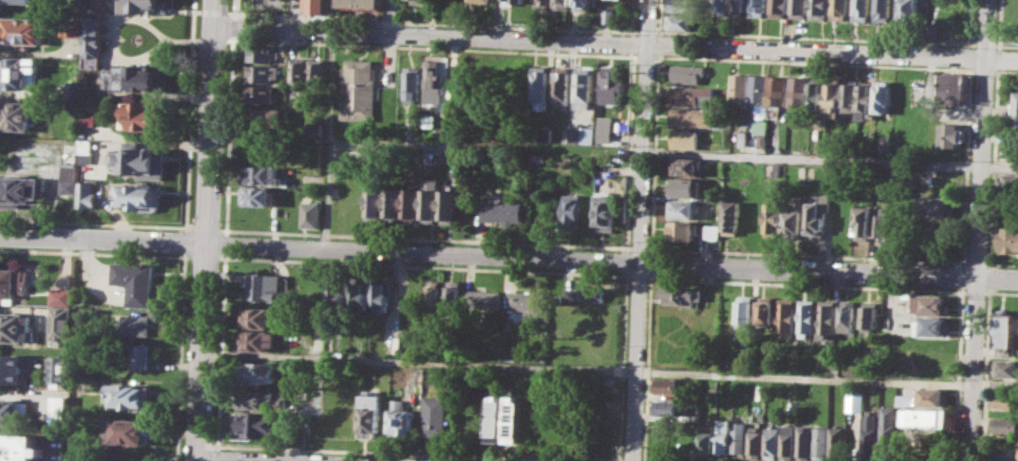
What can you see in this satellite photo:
building: (17, 0)
building: (483, 0)
building: (517, 0)
building: (421, 1)
building: (361, 3)
building: (543, 3)
building: (561, 4)
building: (582, 5)
building: (685, 5)
building: (145, 6)
building: (314, 6)
building: (720, 6)
building: (739, 6)
building: (94, 8)
building: (757, 8)
building: (777, 8)
building: (798, 8)
street lamp: (227, 9)
building: (818, 9)
road: (197, 10)
road: (214, 10)
building: (839, 10)
building: (860, 10)
building: (883, 10)
building: (911, 10)
road: (231, 12)
road: (231, 14)
road: (394, 16)
building: (608, 16)
road: (659, 17)
street lamp: (241, 18)
street lamp: (324, 21)
building: (679, 21)
road: (444, 24)
road: (230, 26)
street lamp: (422, 26)
building: (70, 27)
street lamp: (639, 29)
building: (21, 30)
street lamp: (528, 30)
road: (635, 34)
street lamp: (629, 35)
street lamp: (734, 37)
road: (231, 38)
building: (93, 41)
road: (616, 42)
street lamp: (834, 42)
road: (336, 43)
road: (635, 44)
road: (659, 44)
street lamp: (940, 46)
building: (262, 53)
street lamp: (637, 64)
building: (298, 69)
building: (315, 70)
building: (18, 73)
building: (262, 73)
building: (690, 73)
street lamp: (975, 75)
building: (136, 77)
building: (413, 83)
building: (611, 83)
building: (434, 84)
building: (540, 84)
building: (561, 85)
building: (954, 85)
building: (583, 87)
building: (742, 87)
building: (360, 88)
building: (72, 90)
building: (779, 90)
building: (818, 92)
building: (260, 93)
building: (760, 93)
building: (799, 93)
building: (690, 95)
building: (850, 95)
building: (885, 96)
building: (458, 97)
building: (833, 99)
building: (866, 99)
building: (1015, 107)
building: (14, 115)
building: (141, 115)
building: (268, 116)
building: (694, 117)
building: (88, 118)
building: (429, 119)
street lamp: (223, 120)
building: (314, 128)
building: (546, 134)
building: (582, 134)
building: (605, 134)
building: (953, 135)
building: (686, 138)
building: (742, 138)
road: (330, 139)
building: (763, 139)
building: (85, 151)
road: (674, 151)
road: (631, 152)
building: (68, 153)
road: (654, 153)
building: (540, 156)
building: (140, 161)
building: (684, 166)
building: (777, 169)
building: (261, 174)
building: (901, 175)
building: (68, 179)
building: (1008, 181)
building: (683, 187)
building: (21, 190)
building: (86, 194)
building: (137, 196)
building: (256, 196)
building: (429, 198)
building: (374, 202)
building: (392, 202)
building: (409, 205)
building: (446, 206)
building: (937, 207)
building: (683, 209)
building: (502, 210)
building: (605, 210)
building: (572, 211)
building: (308, 214)
building: (818, 215)
building: (732, 216)
building: (773, 218)
street lamp: (219, 220)
building: (794, 221)
building: (879, 221)
building: (862, 222)
road: (91, 223)
building: (894, 224)
road: (185, 226)
road: (188, 227)
road: (204, 228)
road: (185, 230)
road: (205, 230)
road: (640, 230)
road: (979, 230)
building: (682, 231)
building: (710, 231)
street lamp: (230, 234)
building: (936, 237)
road: (425, 238)
building: (1009, 239)
road: (225, 243)
road: (639, 248)
road: (89, 252)
road: (807, 254)
road: (509, 255)
road: (182, 256)
road: (188, 256)
road: (204, 257)
road: (626, 261)
road: (976, 262)
road: (1001, 263)
road: (650, 264)
road: (424, 266)
road: (638, 276)
building: (136, 281)
building: (11, 284)
road: (806, 284)
building: (266, 286)
road: (975, 291)
building: (359, 292)
road: (1001, 292)
building: (380, 293)
building: (584, 293)
building: (337, 294)
building: (61, 295)
building: (681, 295)
building: (433, 298)
building: (452, 299)
building: (481, 299)
building: (524, 300)
building: (934, 305)
building: (745, 312)
building: (766, 313)
building: (850, 314)
building: (872, 314)
building: (788, 315)
building: (809, 315)
building: (257, 317)
building: (830, 318)
building: (61, 322)
building: (137, 324)
building: (15, 326)
building: (934, 326)
building: (1006, 330)
building: (257, 340)
building: (329, 342)
road: (220, 350)
building: (138, 355)
road: (623, 365)
building: (933, 365)
road: (646, 367)
building: (1007, 367)
building: (11, 368)
building: (59, 369)
road: (609, 369)
building: (259, 372)
building: (419, 375)
building: (667, 385)
building: (761, 392)
road: (23, 393)
building: (132, 396)
building: (934, 396)
building: (259, 398)
building: (903, 399)
building: (1006, 400)
building: (856, 401)
building: (669, 407)
building: (59, 408)
building: (9, 412)
building: (403, 414)
building: (370, 415)
building: (434, 415)
building: (927, 417)
building: (496, 418)
building: (512, 419)
building: (889, 423)
building: (256, 424)
building: (1005, 425)
building: (131, 431)
building: (870, 432)
building: (722, 435)
building: (739, 436)
building: (706, 438)
building: (787, 441)
building: (771, 442)
building: (804, 442)
building: (821, 442)
building: (838, 443)
building: (755, 444)
building: (19, 448)
building: (1005, 452)
road: (405, 453)
road: (217, 455)
road: (207, 460)

